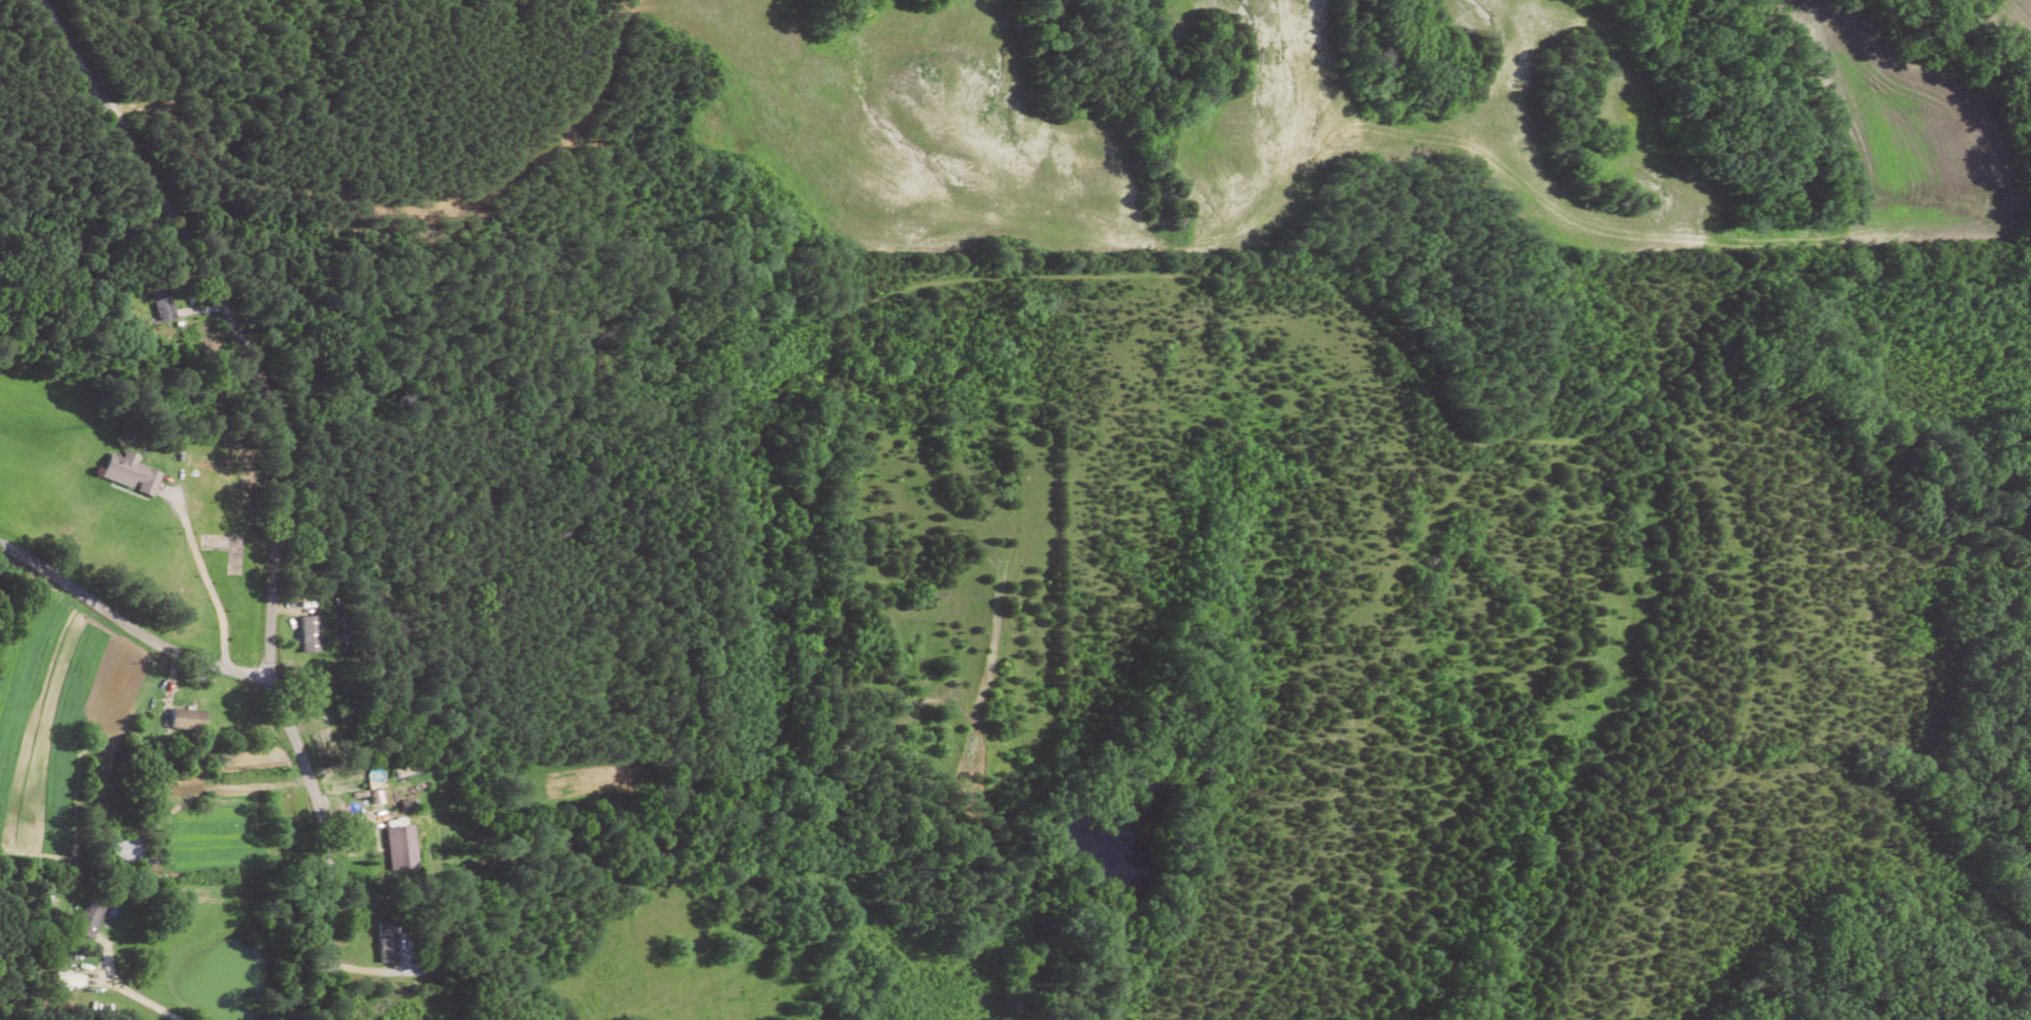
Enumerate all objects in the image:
building: (161, 302)
building: (193, 407)
building: (130, 472)
road: (295, 484)
road: (208, 580)
road: (126, 632)
building: (335, 708)
building: (188, 719)
road: (229, 723)
building: (269, 816)
building: (401, 847)
building: (127, 851)
building: (89, 918)
building: (387, 942)
building: (70, 981)
road: (137, 991)

